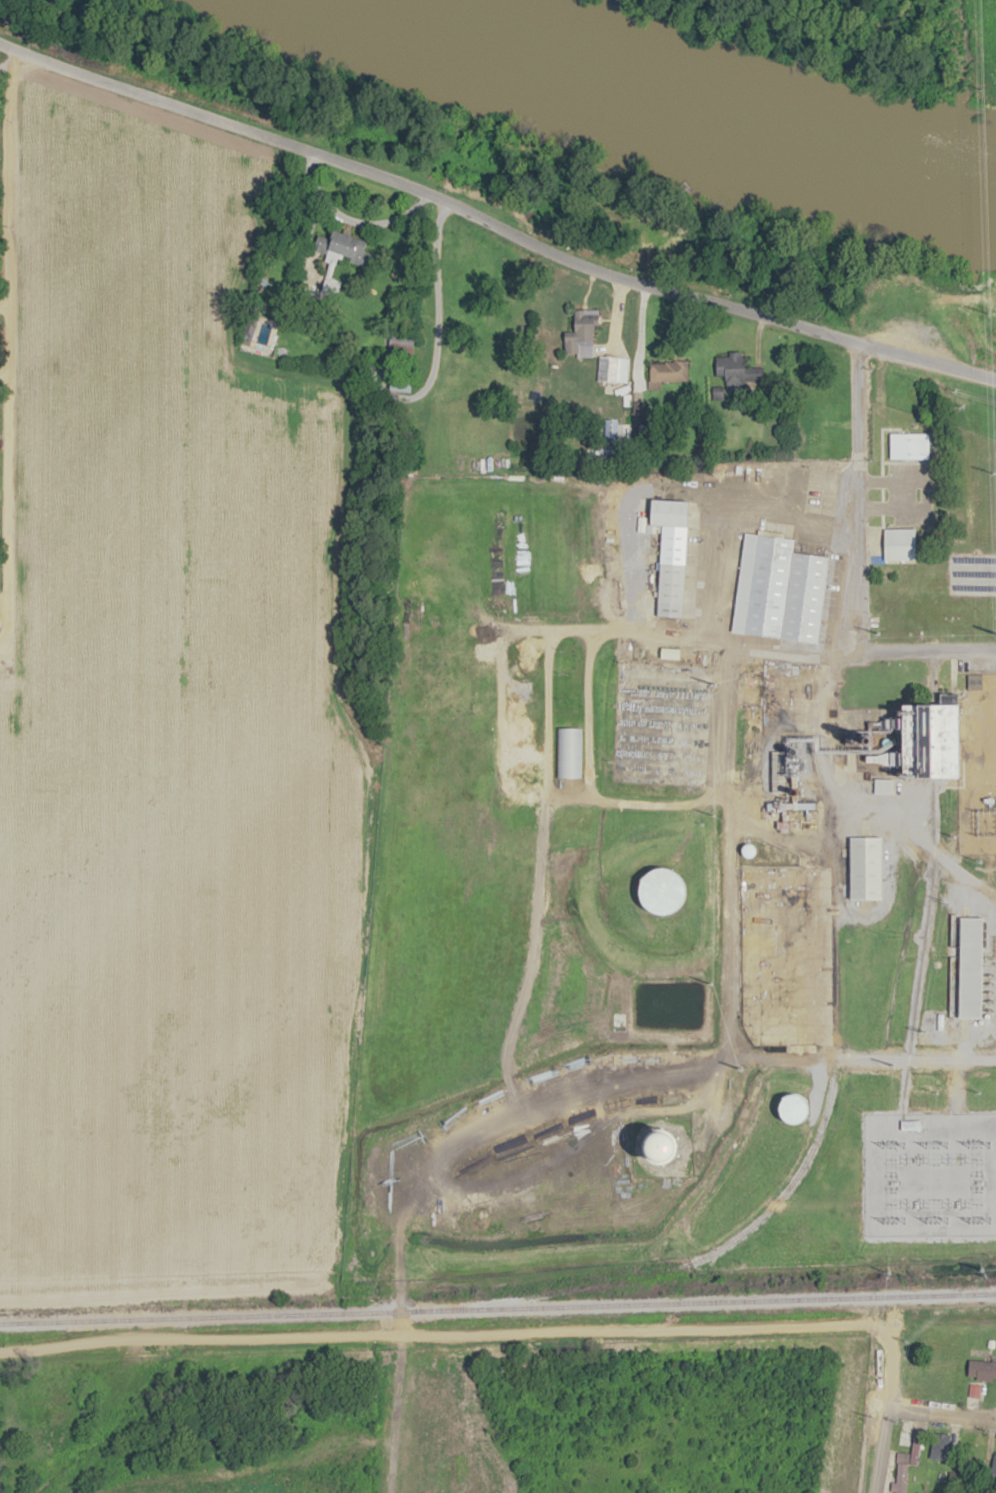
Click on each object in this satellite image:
river: (717, 91)
road: (3, 136)
road: (386, 180)
building: (351, 250)
building: (581, 331)
building: (401, 346)
road: (883, 351)
building: (613, 369)
building: (736, 371)
building: (668, 372)
building: (401, 383)
building: (610, 429)
building: (905, 453)
road: (857, 499)
road: (635, 533)
building: (899, 545)
building: (671, 555)
building: (785, 590)
road: (693, 636)
building: (974, 681)
crop: (166, 736)
building: (942, 742)
building: (567, 753)
building: (882, 786)
building: (865, 866)
building: (662, 889)
building: (968, 964)
road: (722, 978)
building: (617, 1021)
building: (793, 1107)
water tower: (666, 1145)
power substation: (928, 1173)
railway: (755, 1220)
railway: (498, 1308)
road: (476, 1331)
building: (981, 1369)
road: (939, 1409)
road: (875, 1446)
building: (938, 1447)
building: (906, 1460)
building: (993, 1466)

